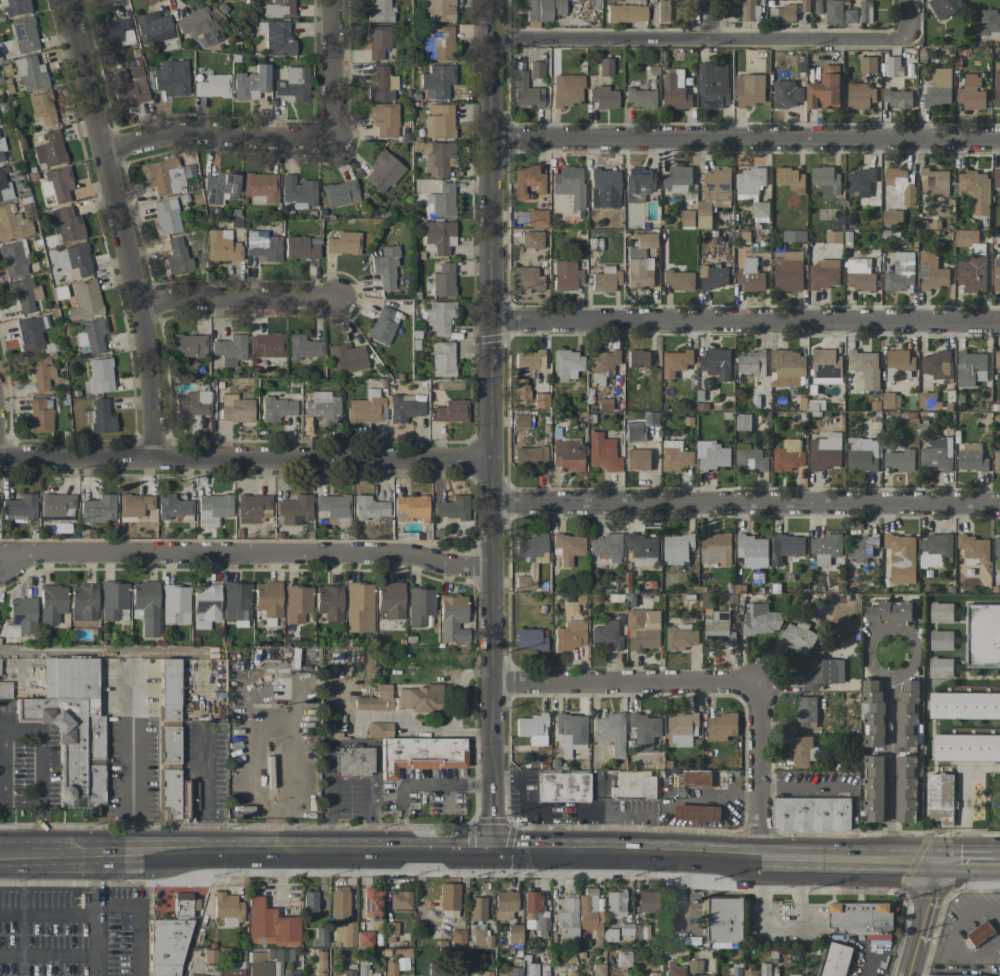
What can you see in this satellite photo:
building: (15, 7)
building: (944, 7)
building: (279, 8)
building: (439, 10)
building: (749, 10)
building: (379, 11)
building: (542, 11)
building: (663, 11)
building: (865, 11)
building: (626, 13)
building: (839, 13)
building: (782, 14)
road: (706, 18)
road: (908, 19)
building: (989, 24)
building: (153, 27)
building: (199, 27)
building: (24, 34)
building: (115, 34)
road: (700, 37)
building: (278, 39)
building: (378, 41)
building: (438, 43)
building: (868, 64)
building: (605, 66)
building: (893, 66)
road: (332, 68)
building: (536, 69)
building: (30, 73)
building: (172, 77)
building: (437, 81)
building: (251, 83)
building: (214, 84)
building: (381, 84)
building: (294, 85)
building: (713, 85)
building: (128, 88)
building: (938, 88)
building: (825, 89)
building: (567, 90)
building: (750, 90)
building: (997, 90)
building: (526, 91)
building: (674, 93)
building: (971, 93)
building: (786, 94)
building: (860, 96)
building: (603, 97)
building: (639, 97)
building: (897, 98)
building: (42, 108)
building: (384, 119)
building: (439, 120)
road: (216, 135)
road: (745, 137)
building: (1, 148)
building: (50, 149)
building: (438, 158)
building: (383, 171)
building: (166, 175)
building: (996, 177)
building: (677, 178)
building: (787, 178)
building: (527, 180)
building: (826, 180)
building: (860, 181)
building: (934, 181)
building: (4, 183)
building: (603, 183)
building: (639, 183)
building: (570, 184)
building: (902, 184)
building: (56, 185)
building: (261, 186)
building: (220, 187)
building: (752, 189)
building: (975, 190)
building: (297, 192)
building: (340, 193)
building: (713, 195)
building: (441, 201)
building: (167, 216)
building: (537, 218)
building: (687, 218)
building: (892, 218)
building: (13, 223)
building: (66, 224)
road: (122, 228)
building: (439, 235)
building: (797, 236)
building: (963, 236)
building: (833, 237)
building: (532, 239)
building: (646, 240)
building: (344, 243)
building: (264, 245)
building: (222, 246)
building: (300, 248)
building: (177, 256)
building: (12, 259)
building: (76, 259)
building: (385, 268)
building: (972, 270)
building: (788, 271)
building: (640, 272)
building: (900, 272)
building: (931, 272)
building: (824, 274)
building: (859, 274)
building: (996, 274)
building: (566, 275)
building: (750, 276)
building: (714, 277)
building: (527, 278)
building: (605, 279)
building: (443, 280)
building: (679, 280)
building: (24, 293)
building: (85, 300)
road: (242, 301)
building: (440, 316)
road: (746, 320)
building: (383, 324)
building: (31, 333)
building: (92, 334)
building: (189, 345)
building: (267, 345)
building: (304, 347)
building: (230, 349)
building: (347, 358)
building: (443, 359)
building: (642, 360)
building: (899, 360)
building: (997, 360)
building: (530, 362)
building: (603, 362)
building: (676, 363)
building: (717, 363)
building: (567, 364)
building: (935, 365)
building: (750, 366)
building: (826, 367)
building: (787, 368)
building: (865, 368)
building: (971, 368)
building: (38, 371)
building: (100, 375)
building: (890, 400)
building: (926, 400)
building: (758, 403)
building: (192, 405)
building: (322, 406)
building: (236, 408)
building: (277, 408)
building: (367, 408)
building: (405, 409)
building: (452, 411)
building: (40, 415)
building: (100, 417)
building: (521, 420)
road: (492, 423)
building: (742, 423)
building: (603, 452)
building: (825, 452)
building: (862, 454)
building: (936, 454)
building: (568, 456)
building: (676, 456)
building: (712, 456)
building: (788, 456)
building: (530, 457)
road: (245, 458)
building: (971, 458)
building: (640, 460)
building: (750, 460)
building: (899, 460)
building: (996, 460)
road: (746, 502)
building: (57, 504)
building: (135, 504)
building: (21, 507)
building: (174, 507)
building: (335, 507)
building: (370, 507)
building: (411, 507)
building: (452, 507)
building: (213, 508)
building: (254, 508)
building: (98, 509)
building: (294, 510)
building: (997, 546)
building: (568, 547)
building: (606, 547)
building: (787, 547)
building: (974, 547)
building: (532, 548)
building: (677, 548)
building: (826, 548)
building: (861, 548)
building: (901, 548)
building: (643, 550)
building: (715, 550)
building: (934, 550)
building: (752, 551)
road: (245, 552)
building: (525, 582)
building: (268, 598)
building: (114, 600)
building: (390, 600)
building: (83, 601)
building: (237, 601)
building: (52, 602)
building: (329, 602)
building: (297, 603)
building: (175, 604)
building: (205, 605)
building: (146, 606)
building: (359, 607)
building: (421, 607)
building: (890, 611)
building: (941, 613)
building: (23, 614)
building: (452, 618)
building: (761, 619)
building: (717, 628)
building: (643, 630)
building: (569, 636)
building: (606, 636)
building: (799, 636)
building: (983, 636)
building: (681, 637)
building: (529, 639)
building: (940, 640)
building: (940, 668)
building: (823, 672)
road: (625, 681)
building: (5, 689)
building: (420, 698)
building: (376, 699)
building: (173, 704)
building: (964, 705)
building: (805, 711)
building: (872, 712)
building: (907, 712)
building: (72, 727)
building: (721, 727)
building: (532, 728)
building: (571, 729)
building: (682, 729)
road: (4, 730)
road: (450, 730)
building: (358, 731)
building: (645, 731)
building: (610, 732)
building: (966, 747)
building: (802, 751)
building: (424, 754)
road: (890, 757)
building: (356, 760)
road: (130, 765)
road: (759, 769)
building: (636, 773)
building: (696, 778)
road: (417, 783)
building: (563, 786)
building: (638, 787)
road: (804, 787)
building: (874, 789)
building: (906, 789)
building: (171, 792)
road: (206, 796)
building: (188, 799)
building: (940, 799)
building: (697, 813)
building: (814, 815)
road: (41, 828)
road: (450, 847)
traffic signals: (493, 847)
road: (203, 849)
road: (691, 852)
road: (912, 864)
traffic signals: (936, 865)
road: (964, 865)
road: (996, 865)
road: (99, 883)
building: (449, 896)
building: (400, 900)
building: (310, 901)
building: (648, 901)
building: (615, 903)
building: (179, 904)
building: (371, 904)
building: (505, 904)
building: (228, 908)
building: (477, 908)
building: (535, 913)
building: (589, 913)
road: (80, 915)
building: (568, 917)
building: (862, 919)
building: (726, 920)
road: (920, 920)
road: (135, 922)
building: (270, 922)
building: (641, 931)
building: (980, 933)
building: (345, 934)
building: (514, 934)
building: (610, 935)
building: (320, 936)
building: (458, 937)
building: (365, 938)
building: (479, 938)
building: (170, 945)
building: (724, 945)
building: (281, 953)
road: (961, 953)
road: (49, 955)
building: (210, 955)
building: (624, 958)
building: (238, 960)
building: (836, 960)
building: (261, 968)
building: (392, 969)
building: (531, 969)
building: (598, 969)
building: (674, 969)
building: (366, 970)
building: (232, 972)
building: (291, 972)
building: (510, 972)
building: (736, 972)
building: (348, 973)
building: (453, 973)
building: (571, 973)
building: (653, 973)
building: (750, 973)
building: (197, 975)
building: (423, 975)
building: (705, 975)
building: (792, 975)
building: (941, 975)

